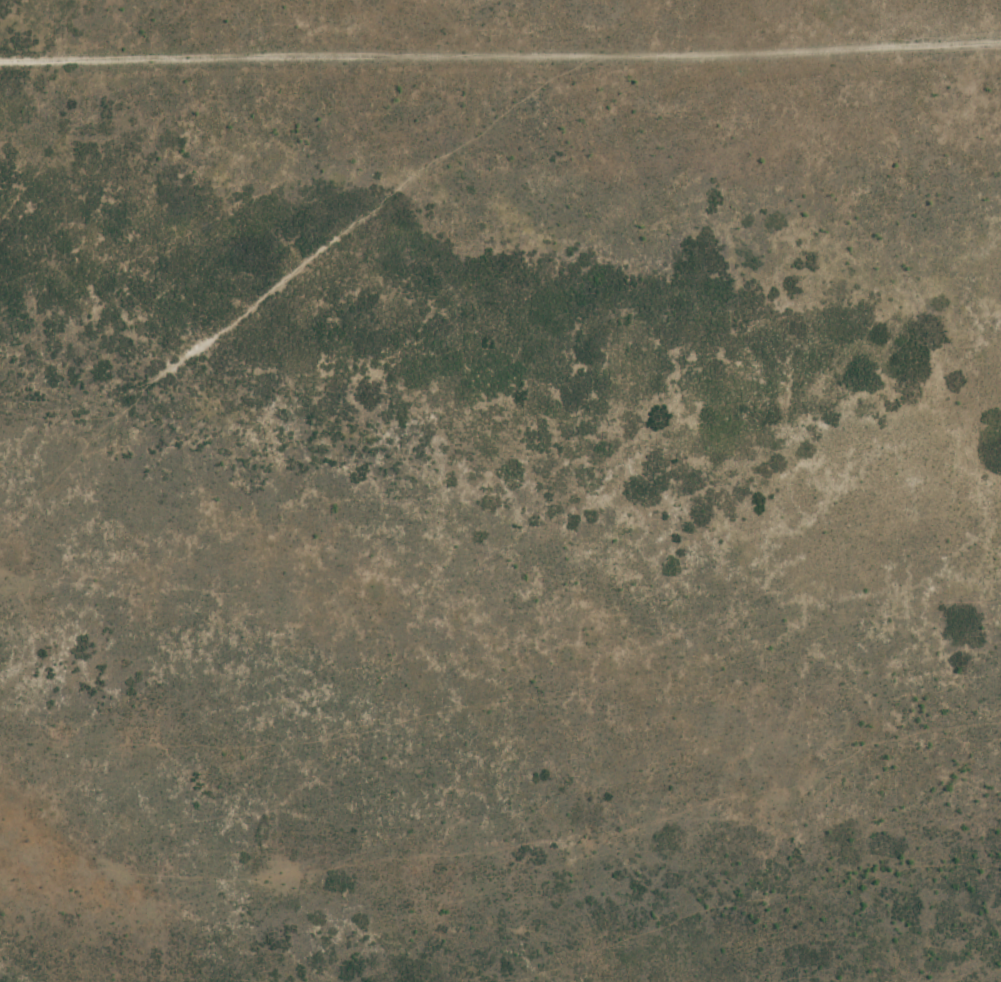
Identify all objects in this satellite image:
road: (500, 19)

